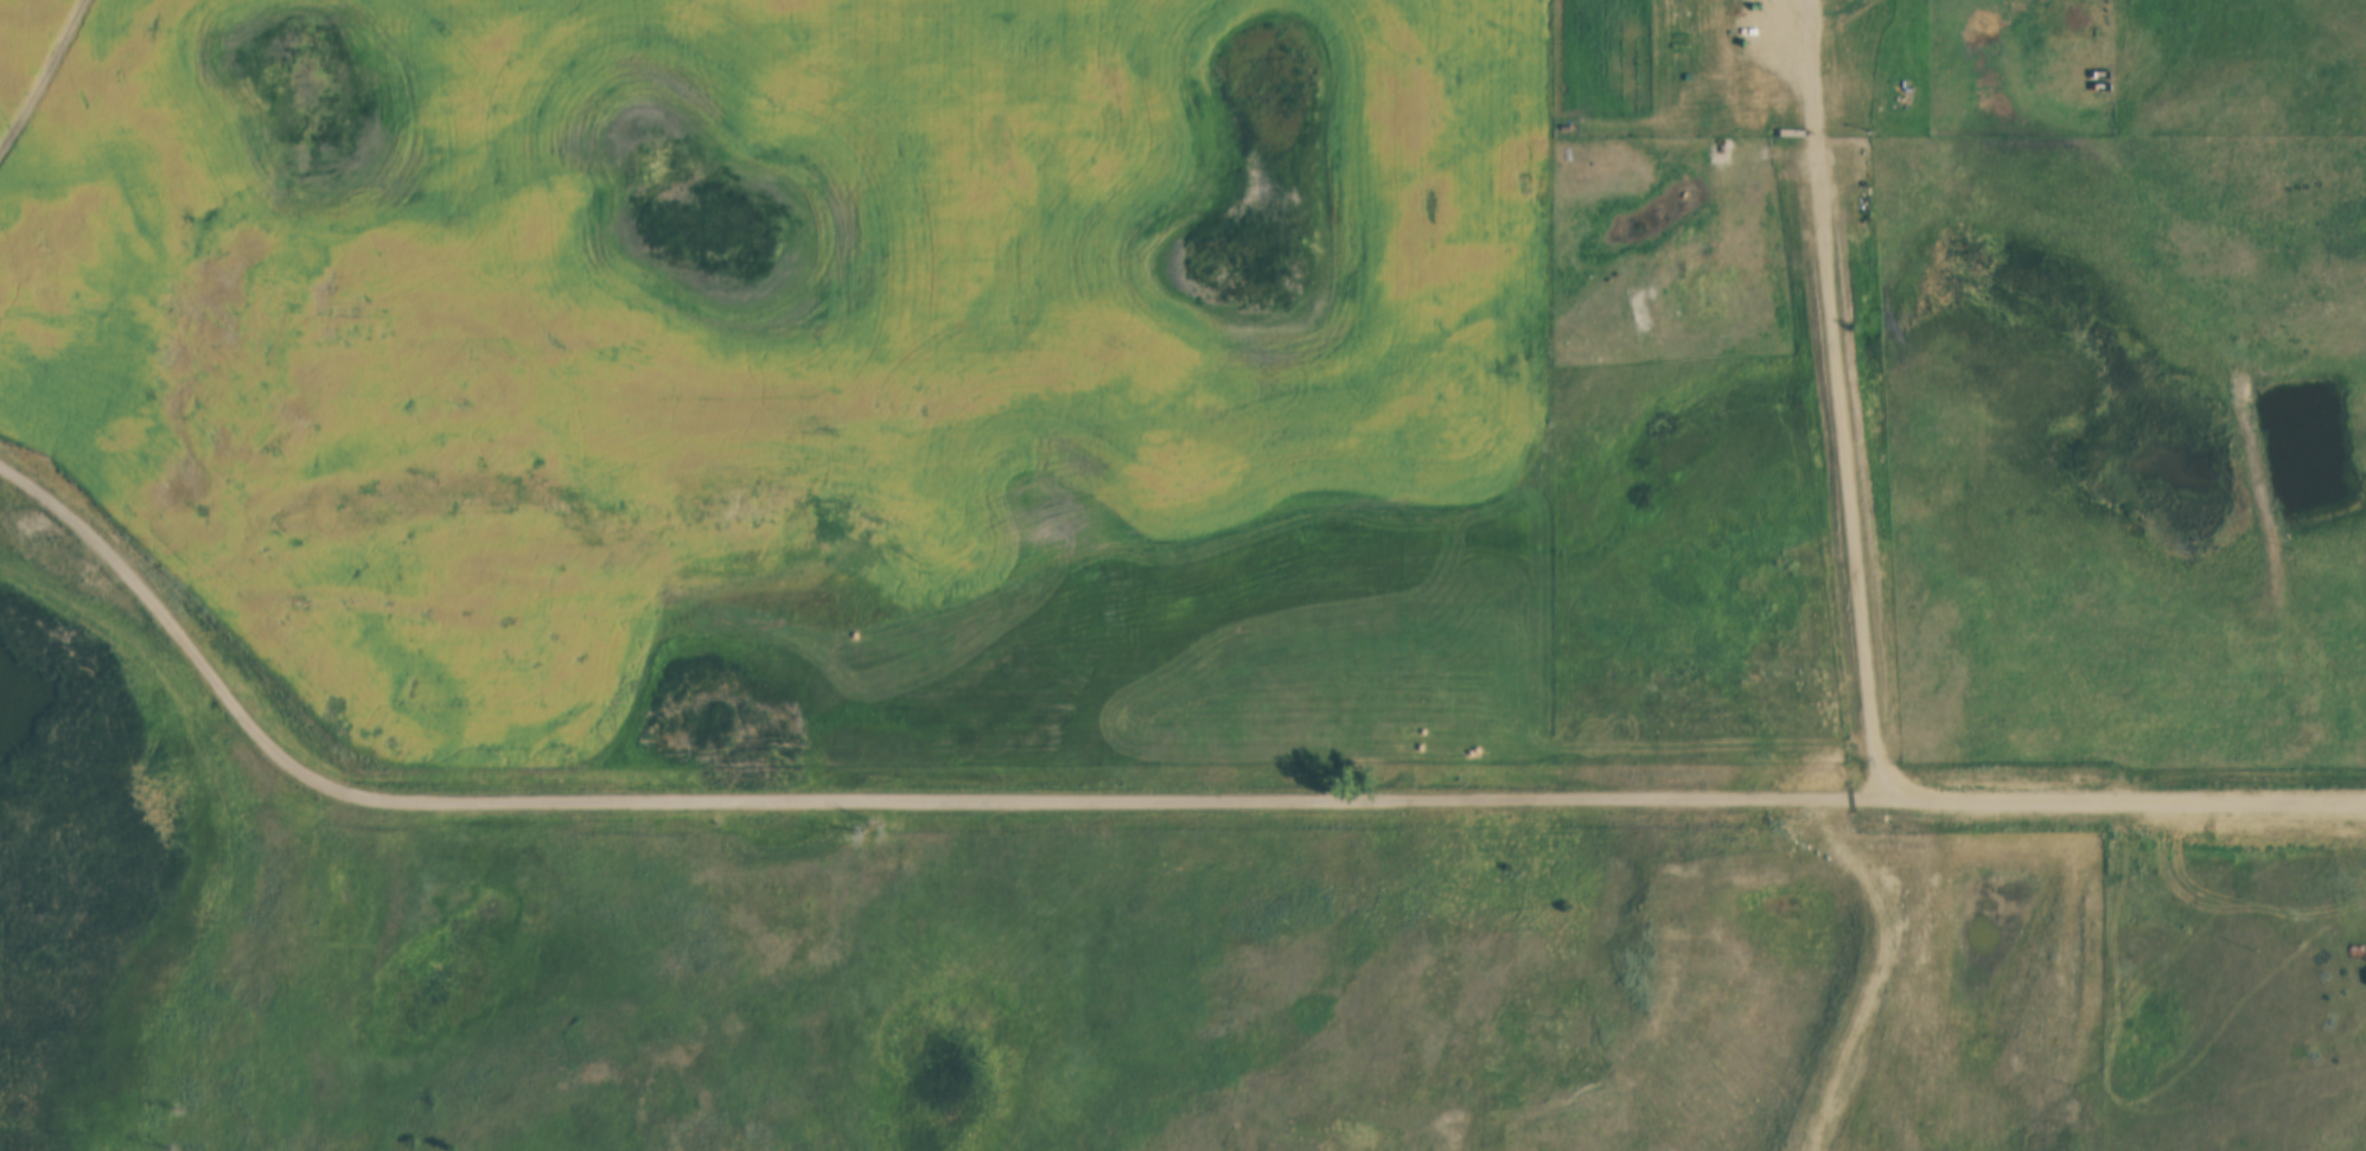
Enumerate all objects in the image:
road: (1848, 396)
road: (2124, 792)
road: (873, 799)
road: (1869, 966)

